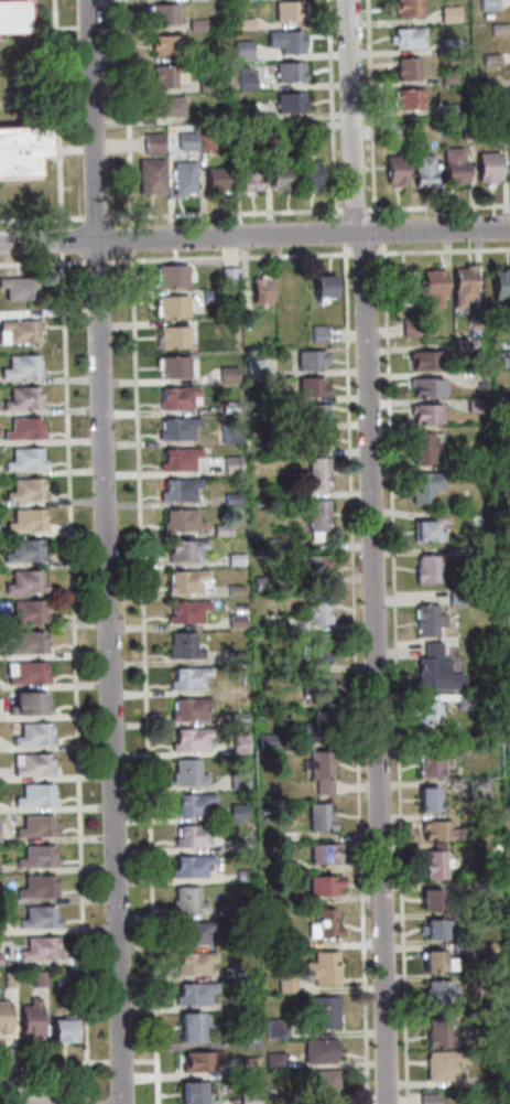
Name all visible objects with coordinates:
building: (486, 4)
building: (408, 8)
building: (287, 10)
building: (162, 13)
building: (448, 14)
building: (13, 15)
building: (242, 23)
building: (195, 24)
building: (496, 29)
building: (406, 37)
building: (284, 40)
building: (164, 44)
building: (447, 44)
building: (241, 50)
building: (488, 58)
building: (240, 68)
building: (405, 68)
building: (287, 72)
building: (161, 75)
building: (446, 78)
building: (245, 81)
building: (205, 85)
building: (484, 94)
building: (408, 98)
building: (287, 101)
building: (165, 106)
road: (370, 109)
building: (446, 109)
road: (330, 110)
road: (126, 112)
road: (56, 114)
road: (349, 116)
building: (303, 126)
building: (391, 130)
building: (465, 130)
building: (265, 135)
building: (496, 137)
building: (185, 141)
building: (204, 141)
building: (151, 143)
building: (22, 150)
building: (453, 165)
building: (486, 165)
building: (508, 165)
building: (394, 167)
building: (421, 170)
building: (247, 174)
building: (306, 174)
building: (150, 175)
building: (279, 176)
building: (181, 178)
building: (215, 179)
road: (438, 206)
road: (352, 208)
road: (221, 213)
road: (94, 217)
road: (41, 219)
road: (377, 232)
road: (338, 233)
road: (254, 234)
road: (129, 237)
road: (61, 239)
road: (443, 250)
road: (362, 253)
road: (228, 257)
road: (95, 261)
road: (41, 262)
building: (170, 276)
building: (228, 276)
building: (322, 285)
building: (462, 285)
building: (499, 285)
building: (432, 286)
building: (402, 287)
building: (18, 288)
building: (259, 289)
building: (294, 290)
building: (209, 296)
building: (171, 307)
building: (504, 314)
building: (473, 321)
building: (408, 326)
building: (18, 330)
building: (316, 333)
building: (171, 336)
building: (464, 346)
building: (307, 358)
building: (423, 360)
building: (503, 362)
building: (21, 366)
building: (172, 366)
building: (253, 367)
building: (226, 374)
building: (308, 386)
building: (423, 386)
building: (500, 392)
building: (175, 397)
building: (22, 398)
building: (475, 405)
building: (228, 406)
building: (424, 412)
building: (311, 414)
building: (175, 428)
building: (22, 429)
building: (229, 435)
building: (311, 440)
building: (421, 448)
building: (270, 450)
building: (176, 459)
building: (24, 460)
building: (232, 464)
building: (313, 474)
building: (423, 485)
building: (177, 489)
building: (25, 490)
building: (271, 491)
building: (230, 499)
building: (316, 517)
building: (25, 519)
building: (181, 521)
building: (428, 529)
building: (220, 530)
building: (23, 550)
building: (183, 550)
road: (104, 551)
building: (234, 559)
building: (311, 565)
building: (426, 569)
building: (509, 580)
building: (24, 581)
building: (187, 581)
building: (260, 583)
building: (235, 590)
building: (455, 597)
building: (315, 609)
building: (25, 611)
building: (185, 611)
building: (507, 619)
building: (426, 620)
building: (235, 621)
building: (273, 626)
building: (25, 643)
building: (182, 646)
building: (317, 647)
building: (236, 656)
building: (287, 663)
road: (373, 667)
building: (434, 669)
building: (24, 673)
road: (394, 673)
road: (354, 674)
road: (72, 676)
road: (142, 676)
building: (187, 678)
building: (316, 687)
building: (463, 701)
building: (25, 704)
building: (262, 705)
building: (188, 708)
building: (425, 714)
building: (237, 718)
building: (317, 726)
building: (32, 735)
building: (188, 739)
building: (263, 741)
building: (239, 743)
building: (507, 744)
building: (462, 749)
building: (430, 763)
building: (31, 764)
building: (318, 770)
building: (185, 773)
building: (237, 781)
building: (476, 789)
building: (33, 795)
building: (426, 800)
building: (192, 804)
building: (237, 812)
building: (318, 817)
building: (35, 826)
building: (434, 829)
building: (192, 835)
building: (508, 838)
building: (239, 844)
building: (495, 847)
building: (322, 853)
building: (35, 856)
building: (433, 865)
building: (189, 866)
building: (241, 875)
building: (322, 885)
building: (36, 886)
building: (428, 899)
building: (185, 900)
building: (37, 918)
building: (467, 920)
building: (322, 924)
building: (432, 930)
building: (251, 932)
building: (189, 933)
building: (295, 942)
building: (459, 947)
building: (39, 948)
building: (435, 962)
building: (192, 963)
building: (321, 967)
building: (230, 973)
building: (63, 977)
building: (39, 978)
building: (9, 979)
building: (285, 984)
building: (438, 992)
building: (193, 994)
building: (240, 998)
building: (322, 1012)
building: (475, 1016)
building: (3, 1017)
building: (29, 1018)
building: (188, 1027)
building: (274, 1028)
building: (61, 1030)
building: (437, 1033)
building: (248, 1038)
building: (317, 1050)
building: (273, 1059)
road: (119, 1061)
road: (142, 1061)
building: (198, 1061)
building: (248, 1065)
building: (443, 1065)
road: (55, 1078)
building: (324, 1086)
building: (192, 1093)
building: (467, 1097)
building: (499, 1097)
road: (13, 1098)
building: (248, 1098)
building: (426, 1098)
road: (86, 1103)

